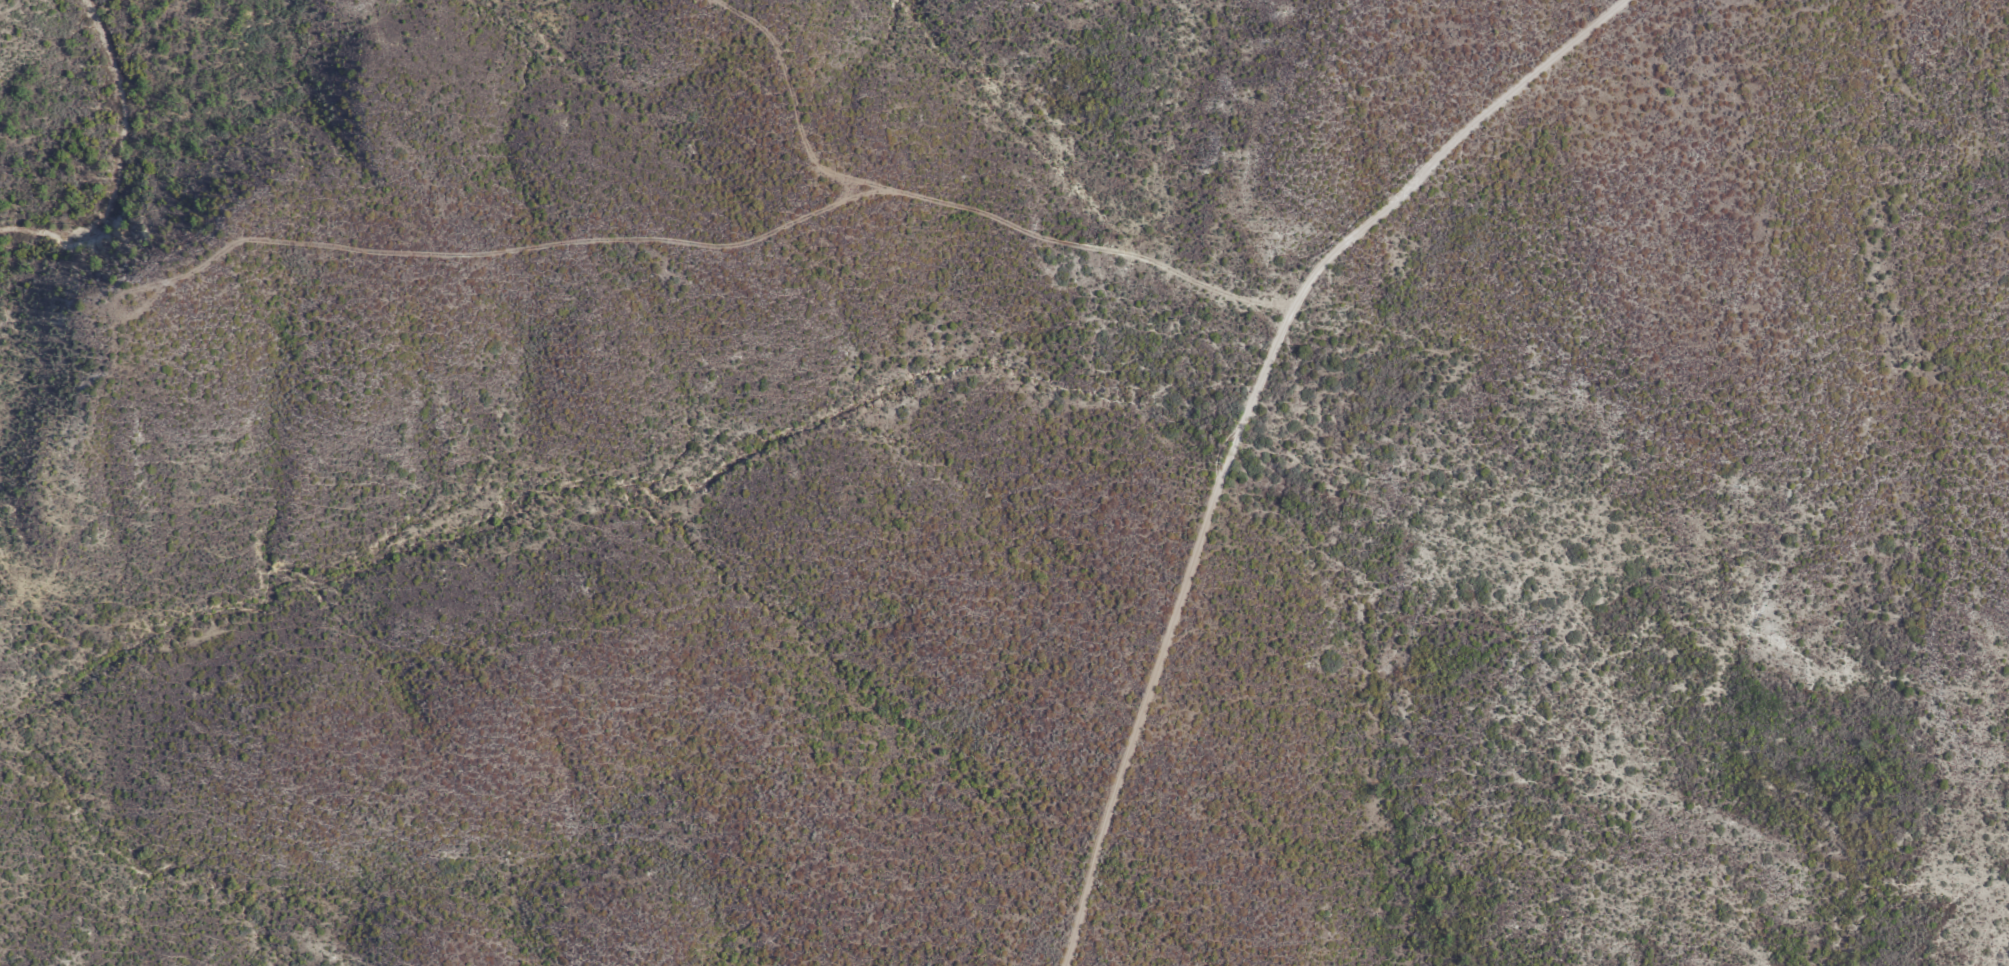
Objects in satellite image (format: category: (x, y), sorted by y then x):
road: (1251, 417)

